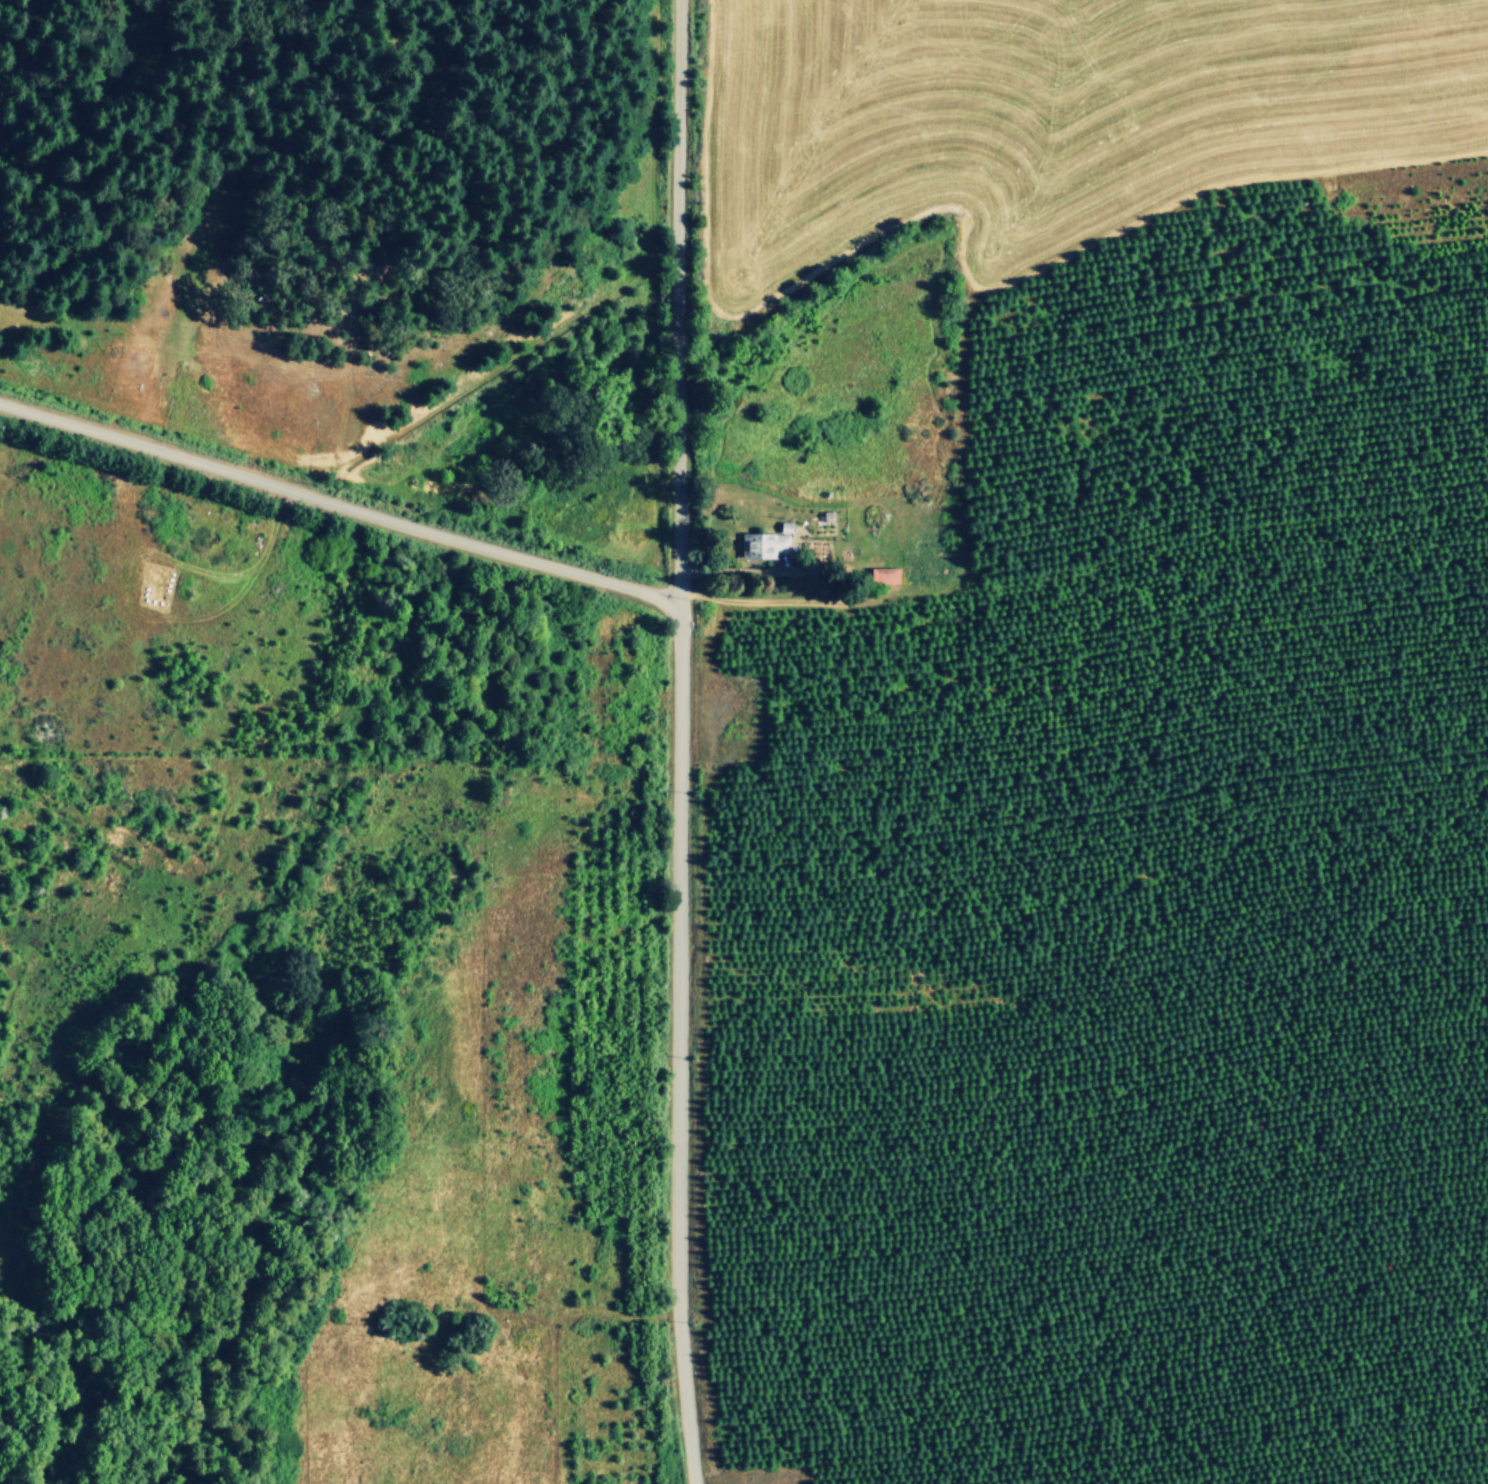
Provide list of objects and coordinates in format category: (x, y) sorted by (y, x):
road: (348, 511)
road: (678, 742)
road: (1082, 1216)

